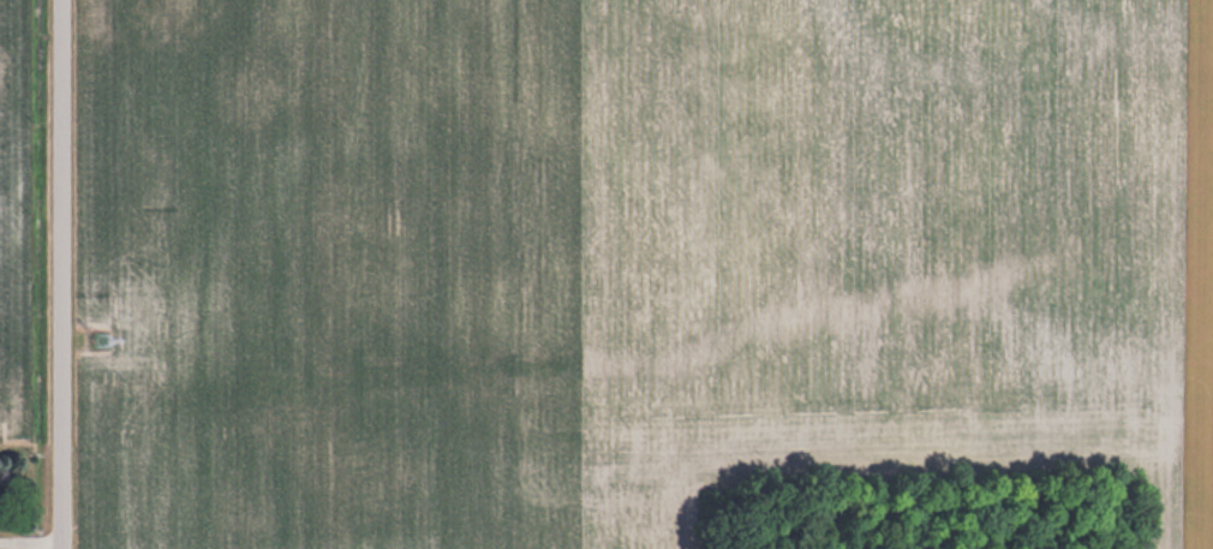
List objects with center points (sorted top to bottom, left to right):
road: (65, 274)
power tower: (104, 341)

